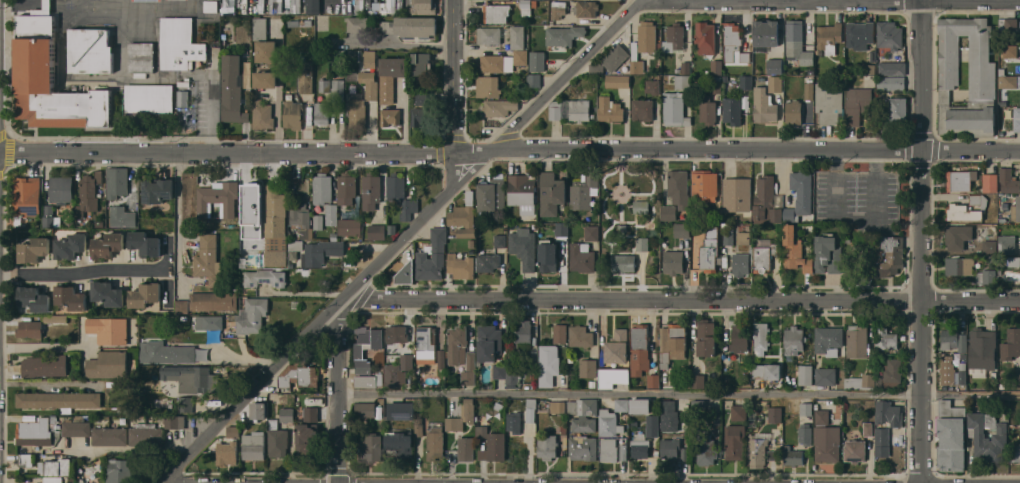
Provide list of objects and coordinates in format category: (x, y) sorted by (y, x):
building: (293, 4)
building: (359, 5)
building: (211, 6)
building: (228, 6)
building: (313, 6)
building: (391, 6)
building: (423, 7)
building: (525, 7)
building: (586, 8)
building: (558, 9)
building: (495, 13)
building: (358, 23)
building: (1007, 24)
building: (408, 26)
building: (766, 32)
building: (860, 34)
building: (503, 35)
building: (563, 35)
building: (889, 35)
building: (647, 36)
building: (706, 37)
building: (829, 37)
building: (674, 38)
building: (731, 40)
building: (264, 42)
building: (797, 43)
building: (179, 44)
building: (90, 50)
building: (1010, 51)
building: (521, 56)
building: (615, 57)
building: (141, 58)
building: (370, 58)
building: (638, 61)
building: (537, 62)
building: (421, 63)
building: (492, 63)
road: (576, 64)
building: (775, 66)
building: (716, 67)
building: (892, 67)
building: (686, 68)
building: (982, 74)
building: (306, 77)
building: (390, 77)
road: (455, 77)
building: (265, 78)
building: (51, 79)
building: (534, 80)
building: (617, 80)
building: (1006, 80)
building: (633, 81)
building: (745, 81)
building: (682, 82)
building: (890, 82)
building: (775, 83)
building: (369, 84)
building: (716, 84)
building: (322, 85)
building: (488, 86)
building: (653, 86)
building: (232, 89)
building: (338, 90)
building: (809, 90)
road: (280, 92)
building: (149, 98)
building: (182, 98)
building: (422, 98)
building: (829, 101)
building: (858, 104)
building: (764, 106)
building: (499, 107)
building: (356, 109)
building: (564, 109)
building: (610, 109)
building: (642, 109)
building: (675, 109)
building: (898, 109)
building: (555, 110)
building: (579, 110)
building: (708, 111)
building: (732, 111)
building: (793, 112)
building: (321, 113)
building: (262, 114)
building: (292, 114)
building: (419, 116)
building: (390, 117)
road: (403, 117)
building: (1016, 119)
road: (506, 140)
road: (760, 150)
road: (250, 153)
building: (958, 180)
building: (1009, 180)
building: (117, 181)
building: (990, 183)
building: (705, 184)
building: (322, 188)
building: (346, 188)
building: (395, 188)
building: (679, 188)
building: (61, 190)
building: (157, 190)
building: (371, 190)
building: (584, 191)
building: (802, 191)
building: (552, 192)
building: (523, 193)
building: (88, 194)
building: (492, 194)
building: (737, 194)
building: (100, 195)
building: (217, 196)
building: (26, 197)
building: (764, 199)
building: (641, 207)
building: (956, 207)
building: (409, 208)
building: (251, 210)
building: (1016, 210)
building: (275, 212)
building: (668, 212)
building: (331, 214)
building: (776, 214)
building: (790, 215)
building: (462, 216)
building: (50, 217)
building: (123, 217)
road: (177, 221)
building: (301, 221)
building: (318, 221)
building: (349, 227)
building: (562, 228)
building: (682, 230)
building: (377, 231)
building: (465, 232)
building: (592, 233)
building: (729, 236)
building: (957, 236)
building: (743, 238)
building: (500, 240)
road: (921, 241)
building: (145, 243)
building: (472, 243)
building: (108, 244)
building: (296, 244)
building: (643, 244)
building: (1007, 244)
building: (71, 245)
building: (990, 246)
building: (524, 247)
building: (34, 249)
building: (710, 250)
building: (794, 250)
building: (320, 252)
building: (549, 254)
building: (828, 255)
building: (433, 256)
building: (889, 256)
building: (581, 257)
building: (765, 257)
building: (276, 258)
building: (209, 261)
building: (488, 262)
building: (673, 262)
building: (624, 263)
building: (741, 263)
building: (959, 265)
building: (461, 266)
road: (99, 271)
building: (406, 273)
building: (989, 276)
building: (266, 277)
building: (107, 293)
building: (145, 294)
building: (71, 297)
building: (34, 298)
road: (682, 300)
building: (213, 301)
building: (182, 306)
road: (330, 315)
building: (252, 316)
building: (211, 321)
building: (37, 325)
building: (108, 329)
building: (523, 332)
building: (396, 333)
building: (560, 333)
building: (580, 336)
building: (761, 336)
building: (706, 338)
building: (740, 338)
building: (886, 339)
building: (829, 340)
building: (953, 340)
building: (857, 341)
building: (489, 342)
building: (794, 342)
building: (672, 343)
building: (426, 344)
building: (457, 344)
building: (1011, 344)
building: (617, 347)
road: (56, 348)
building: (639, 349)
building: (982, 351)
building: (165, 353)
building: (359, 355)
building: (442, 358)
building: (406, 361)
building: (44, 365)
building: (107, 365)
building: (548, 365)
building: (588, 368)
building: (805, 368)
building: (469, 369)
building: (500, 371)
building: (759, 371)
building: (773, 371)
building: (948, 373)
building: (962, 373)
building: (307, 375)
building: (394, 375)
building: (888, 375)
building: (512, 376)
building: (612, 376)
building: (825, 376)
building: (190, 377)
building: (1017, 377)
building: (653, 380)
building: (285, 381)
building: (698, 381)
building: (859, 382)
road: (51, 384)
road: (340, 392)
road: (679, 395)
building: (59, 400)
building: (186, 404)
building: (621, 405)
building: (639, 405)
building: (557, 407)
building: (699, 407)
building: (365, 409)
building: (806, 409)
building: (258, 410)
building: (400, 410)
building: (535, 410)
building: (739, 412)
building: (888, 413)
building: (287, 414)
building: (311, 414)
building: (583, 414)
building: (775, 414)
building: (461, 415)
building: (669, 416)
building: (822, 416)
building: (175, 421)
building: (514, 421)
building: (608, 423)
building: (418, 427)
building: (652, 428)
building: (51, 429)
building: (868, 429)
building: (233, 431)
building: (145, 434)
building: (805, 434)
building: (110, 436)
building: (951, 436)
building: (988, 436)
building: (277, 440)
building: (307, 440)
building: (735, 441)
building: (882, 441)
building: (400, 443)
building: (491, 443)
building: (827, 443)
building: (435, 444)
building: (254, 446)
building: (547, 446)
building: (640, 447)
building: (670, 447)
building: (371, 448)
building: (466, 448)
building: (582, 448)
building: (609, 449)
building: (706, 449)
building: (855, 450)
building: (757, 451)
building: (227, 452)
building: (1015, 453)
building: (792, 456)
building: (26, 459)
building: (56, 467)
building: (120, 471)
building: (53, 479)

